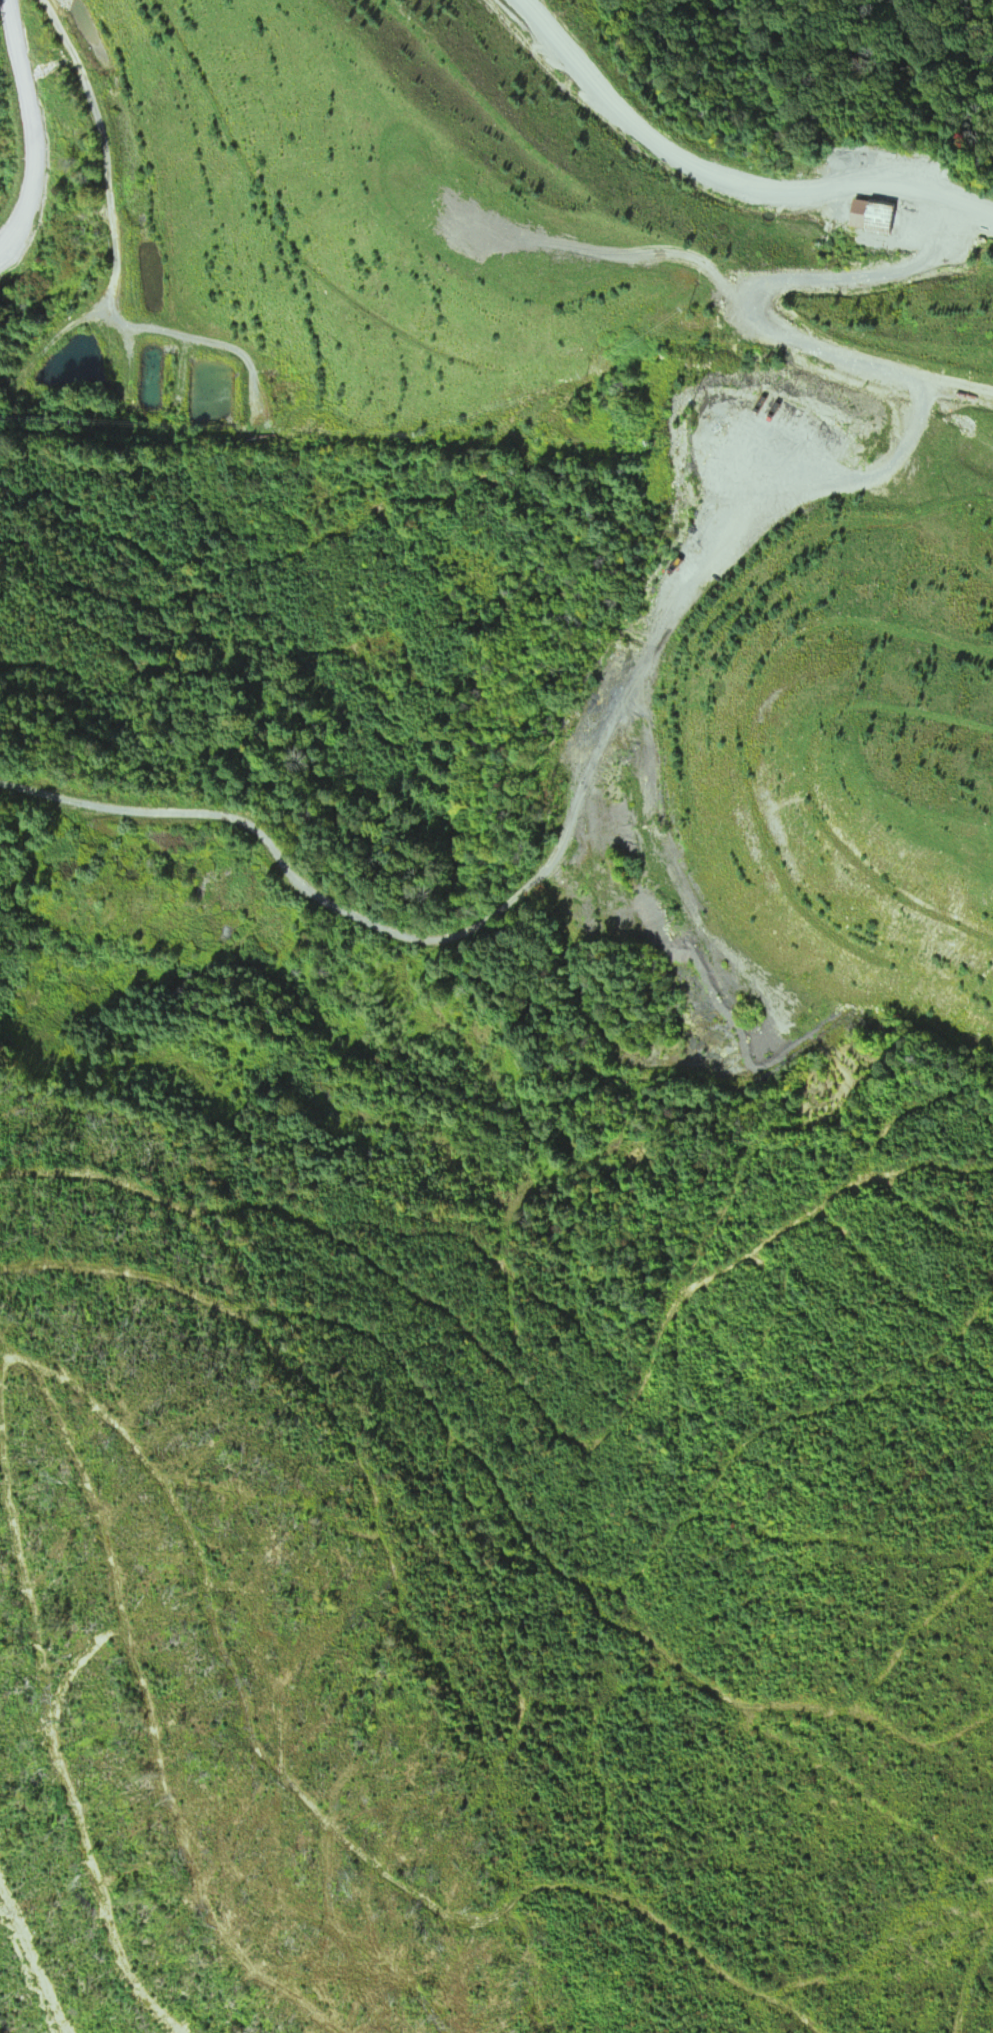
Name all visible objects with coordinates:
road: (85, 208)
building: (871, 215)
road: (646, 224)
road: (700, 316)
road: (55, 392)
building: (919, 625)
road: (579, 853)

